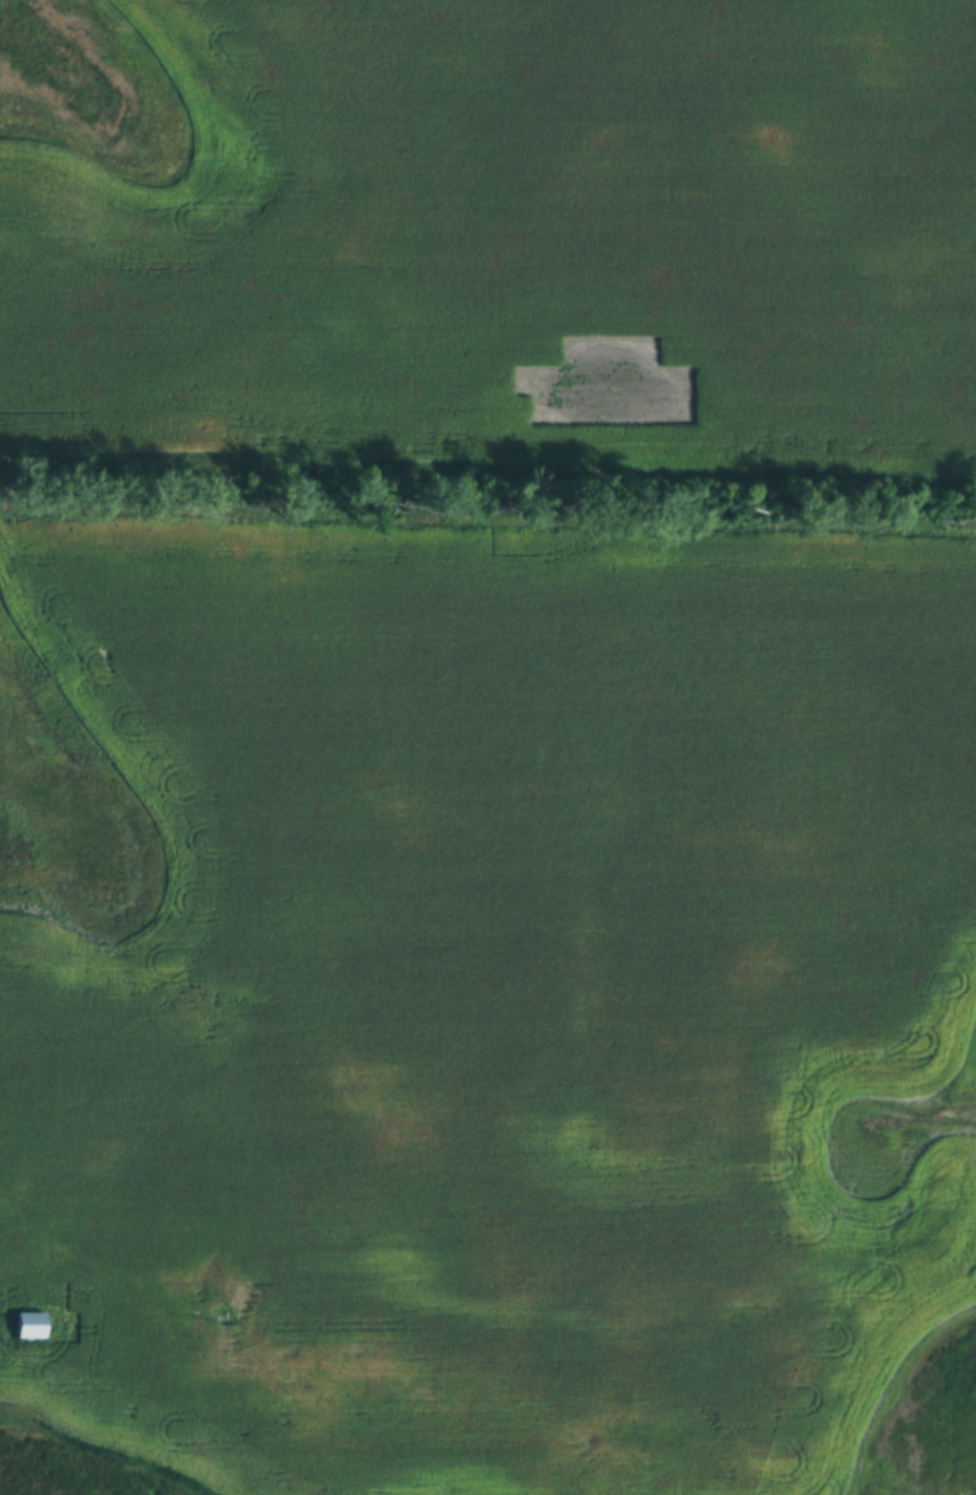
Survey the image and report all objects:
road: (3, 1249)
building: (33, 1326)

